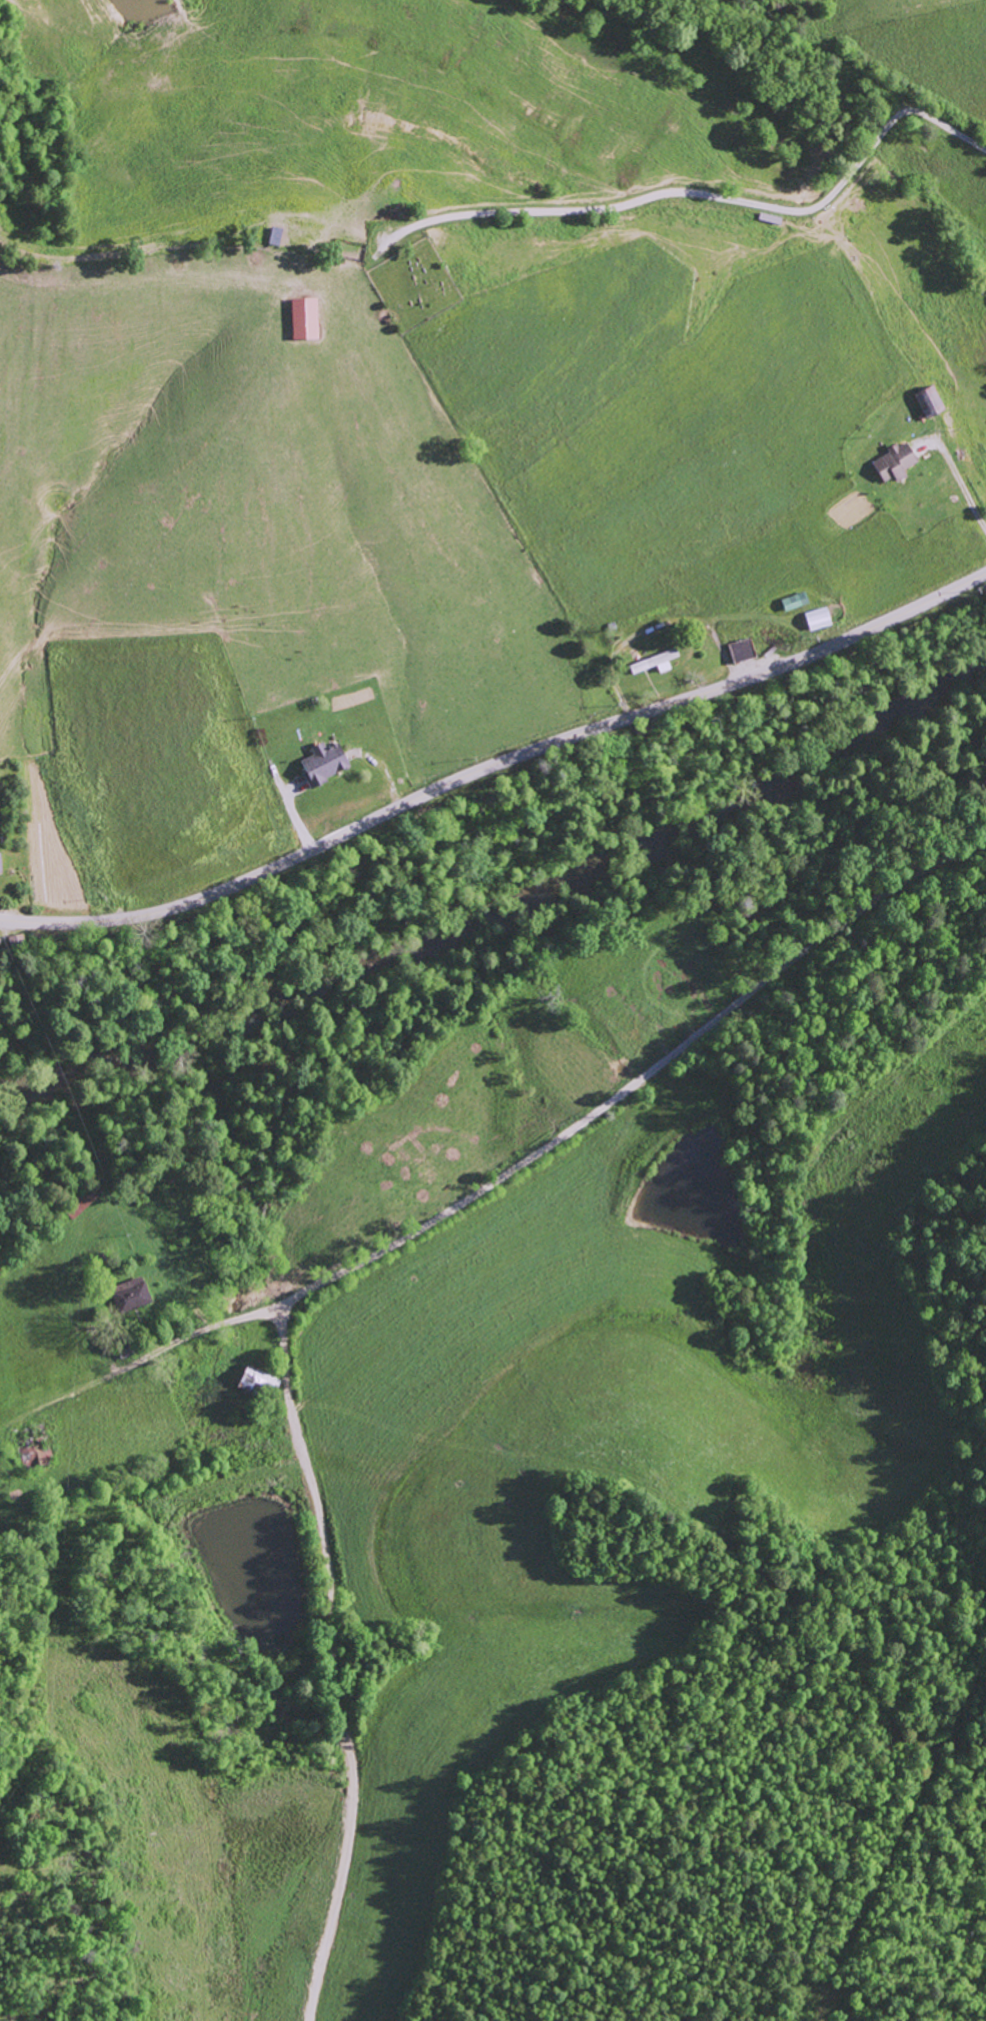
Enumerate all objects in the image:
road: (709, 196)
building: (301, 319)
building: (925, 400)
building: (891, 462)
building: (791, 601)
building: (814, 619)
building: (739, 650)
building: (656, 660)
building: (321, 762)
road: (496, 762)
road: (638, 1080)
building: (129, 1298)
road: (208, 1328)
road: (332, 1661)

